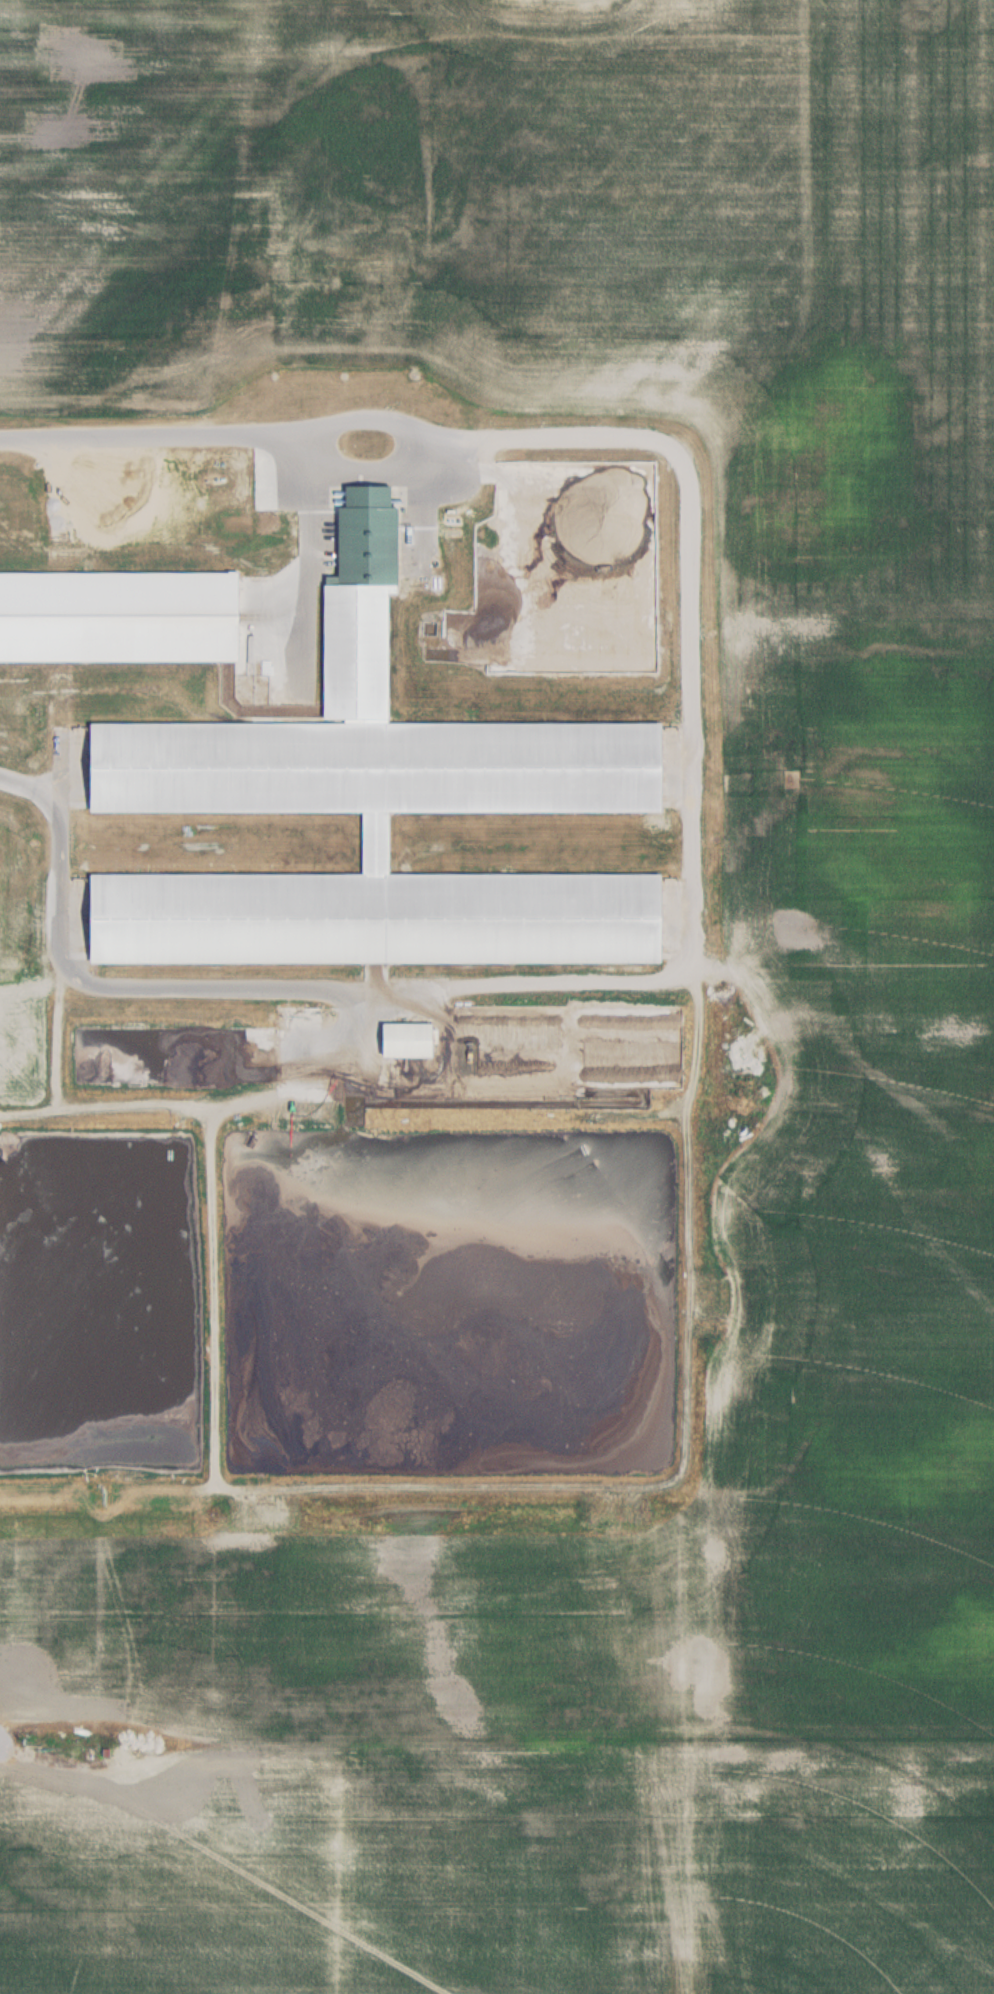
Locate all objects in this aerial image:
building: (370, 813)
building: (405, 1039)

